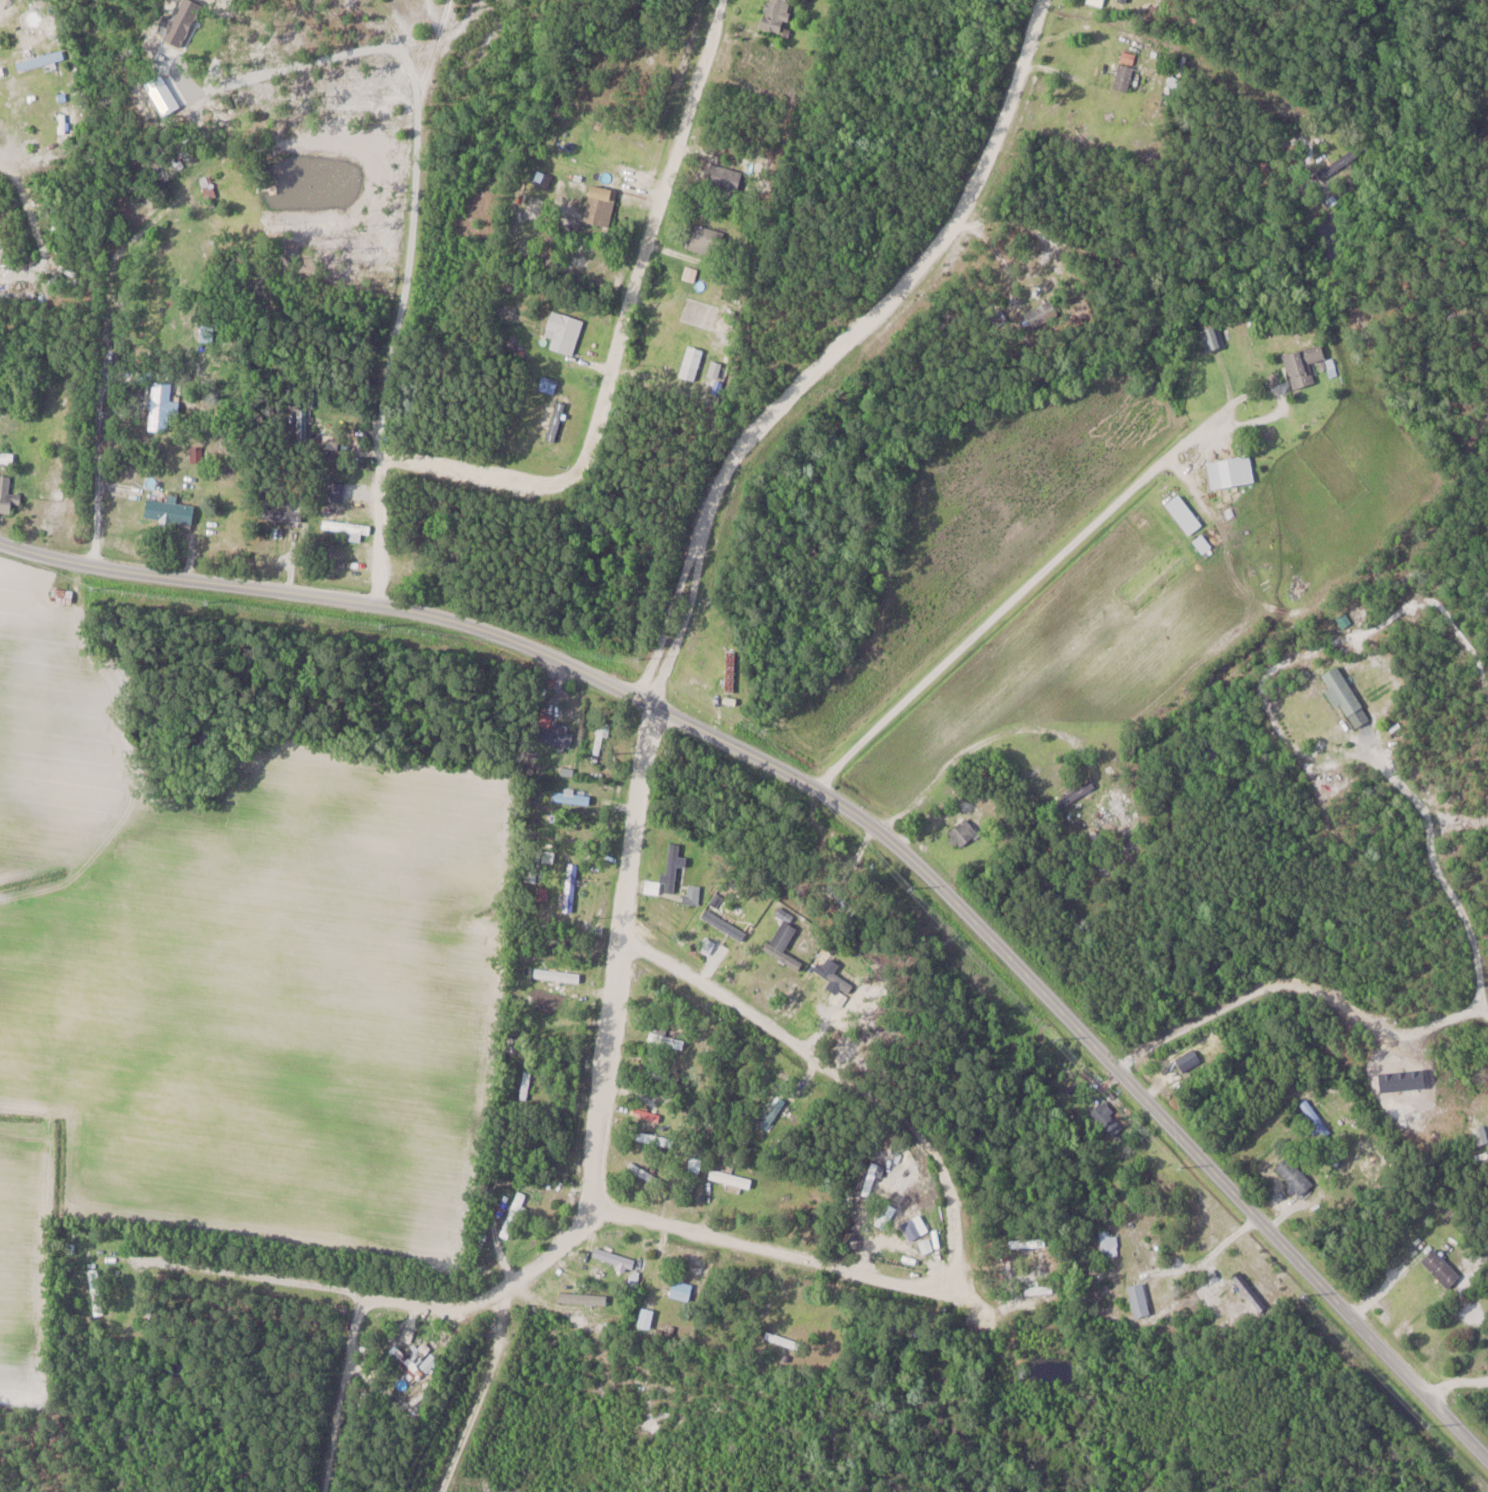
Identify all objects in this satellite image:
building: (778, 11)
road: (21, 43)
building: (1124, 77)
building: (1486, 129)
building: (1339, 164)
road: (416, 208)
building: (600, 211)
building: (174, 240)
building: (707, 241)
building: (1040, 315)
building: (565, 332)
building: (1212, 336)
road: (623, 340)
road: (839, 350)
road: (103, 363)
building: (1304, 366)
building: (161, 405)
building: (556, 422)
building: (6, 456)
building: (1231, 473)
building: (6, 494)
building: (169, 510)
building: (1184, 513)
building: (285, 515)
road: (390, 523)
building: (349, 528)
road: (1071, 543)
building: (1203, 543)
building: (62, 594)
building: (730, 671)
building: (1341, 689)
building: (555, 731)
building: (1079, 791)
building: (576, 796)
road: (853, 813)
building: (963, 833)
building: (673, 866)
building: (785, 930)
building: (831, 972)
building: (558, 977)
building: (668, 1038)
building: (1189, 1059)
building: (526, 1081)
building: (1109, 1118)
building: (654, 1138)
building: (1294, 1176)
building: (730, 1178)
building: (510, 1214)
building: (913, 1228)
building: (1027, 1242)
building: (1109, 1244)
building: (1140, 1252)
road: (788, 1254)
building: (99, 1255)
building: (614, 1257)
road: (1180, 1268)
building: (1442, 1268)
road: (353, 1289)
building: (681, 1290)
building: (1040, 1290)
building: (96, 1291)
building: (1140, 1300)
building: (786, 1341)
building: (429, 1363)
road: (336, 1391)

